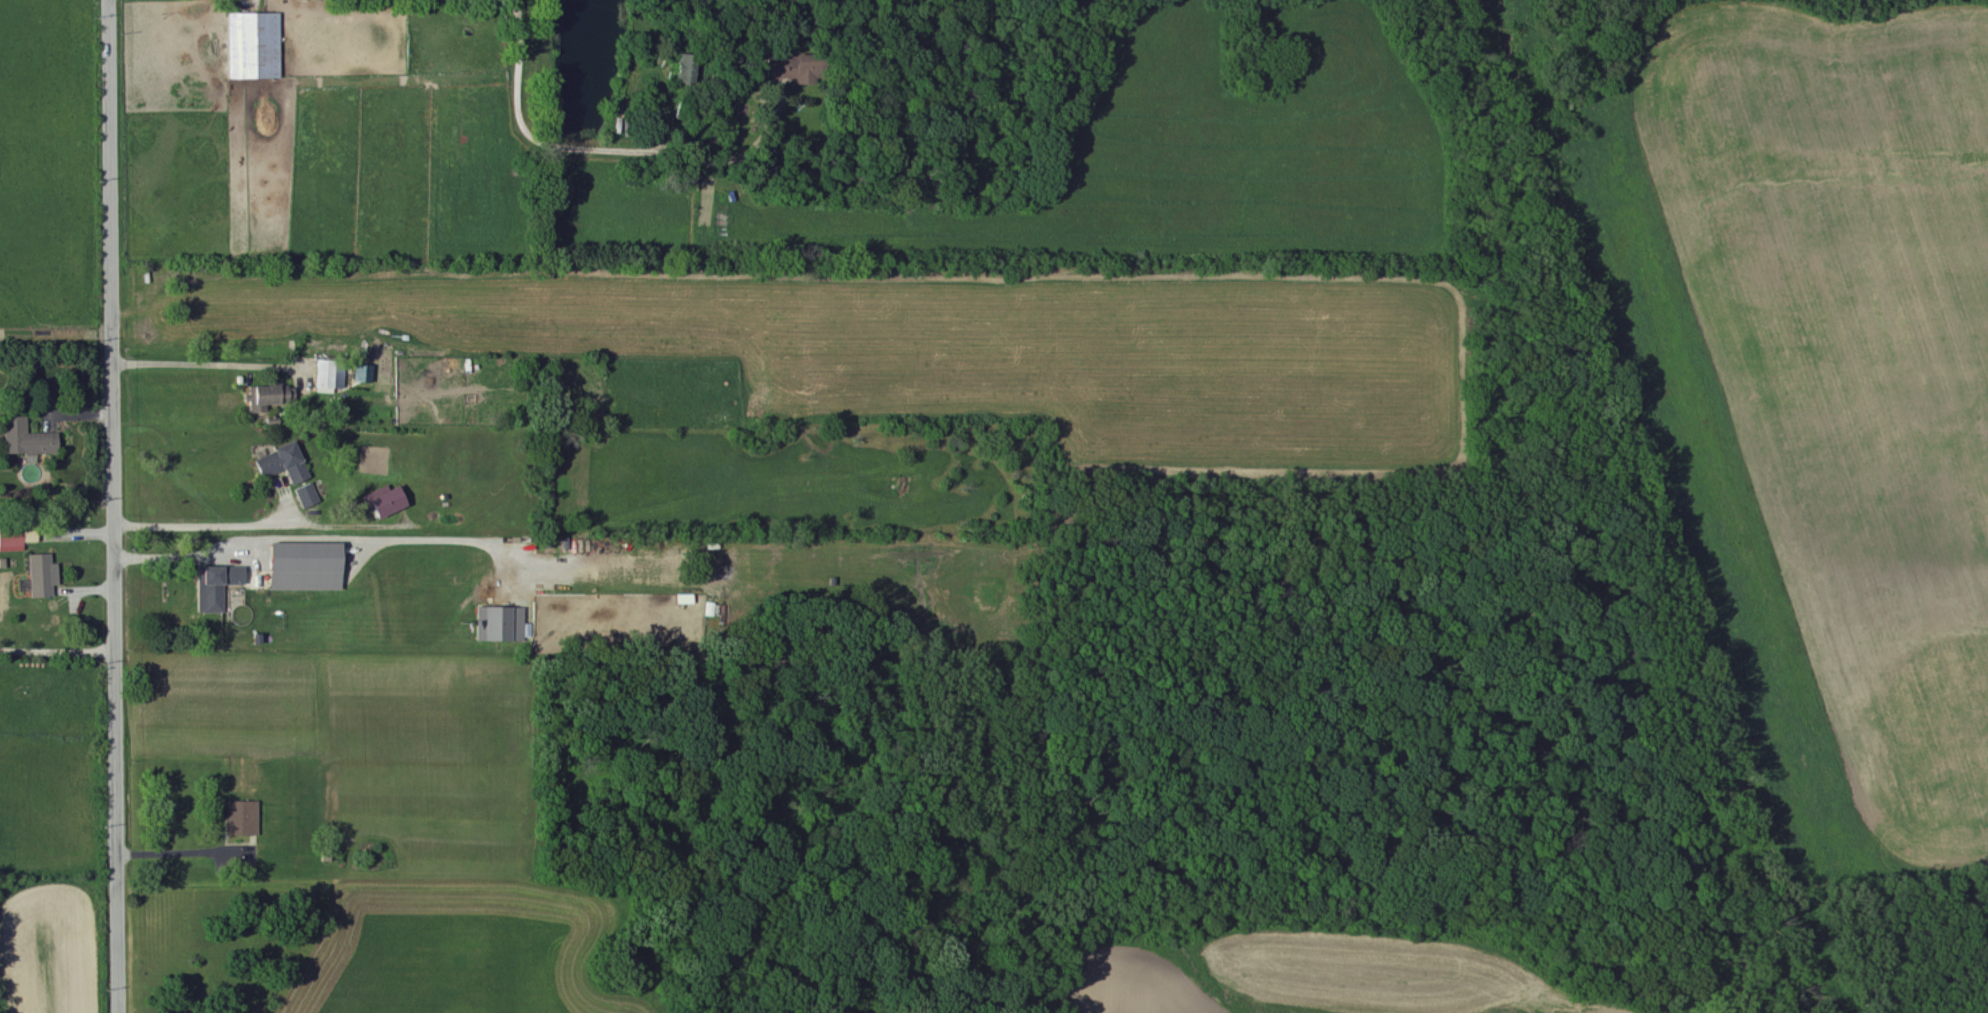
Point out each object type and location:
building: (253, 46)
building: (779, 69)
road: (556, 144)
road: (206, 365)
building: (329, 377)
building: (267, 398)
building: (25, 439)
building: (281, 464)
building: (306, 497)
building: (385, 503)
road: (110, 506)
road: (204, 527)
road: (329, 540)
building: (10, 542)
building: (303, 568)
building: (41, 577)
building: (215, 588)
building: (500, 625)
road: (56, 645)
building: (242, 819)
road: (178, 854)

